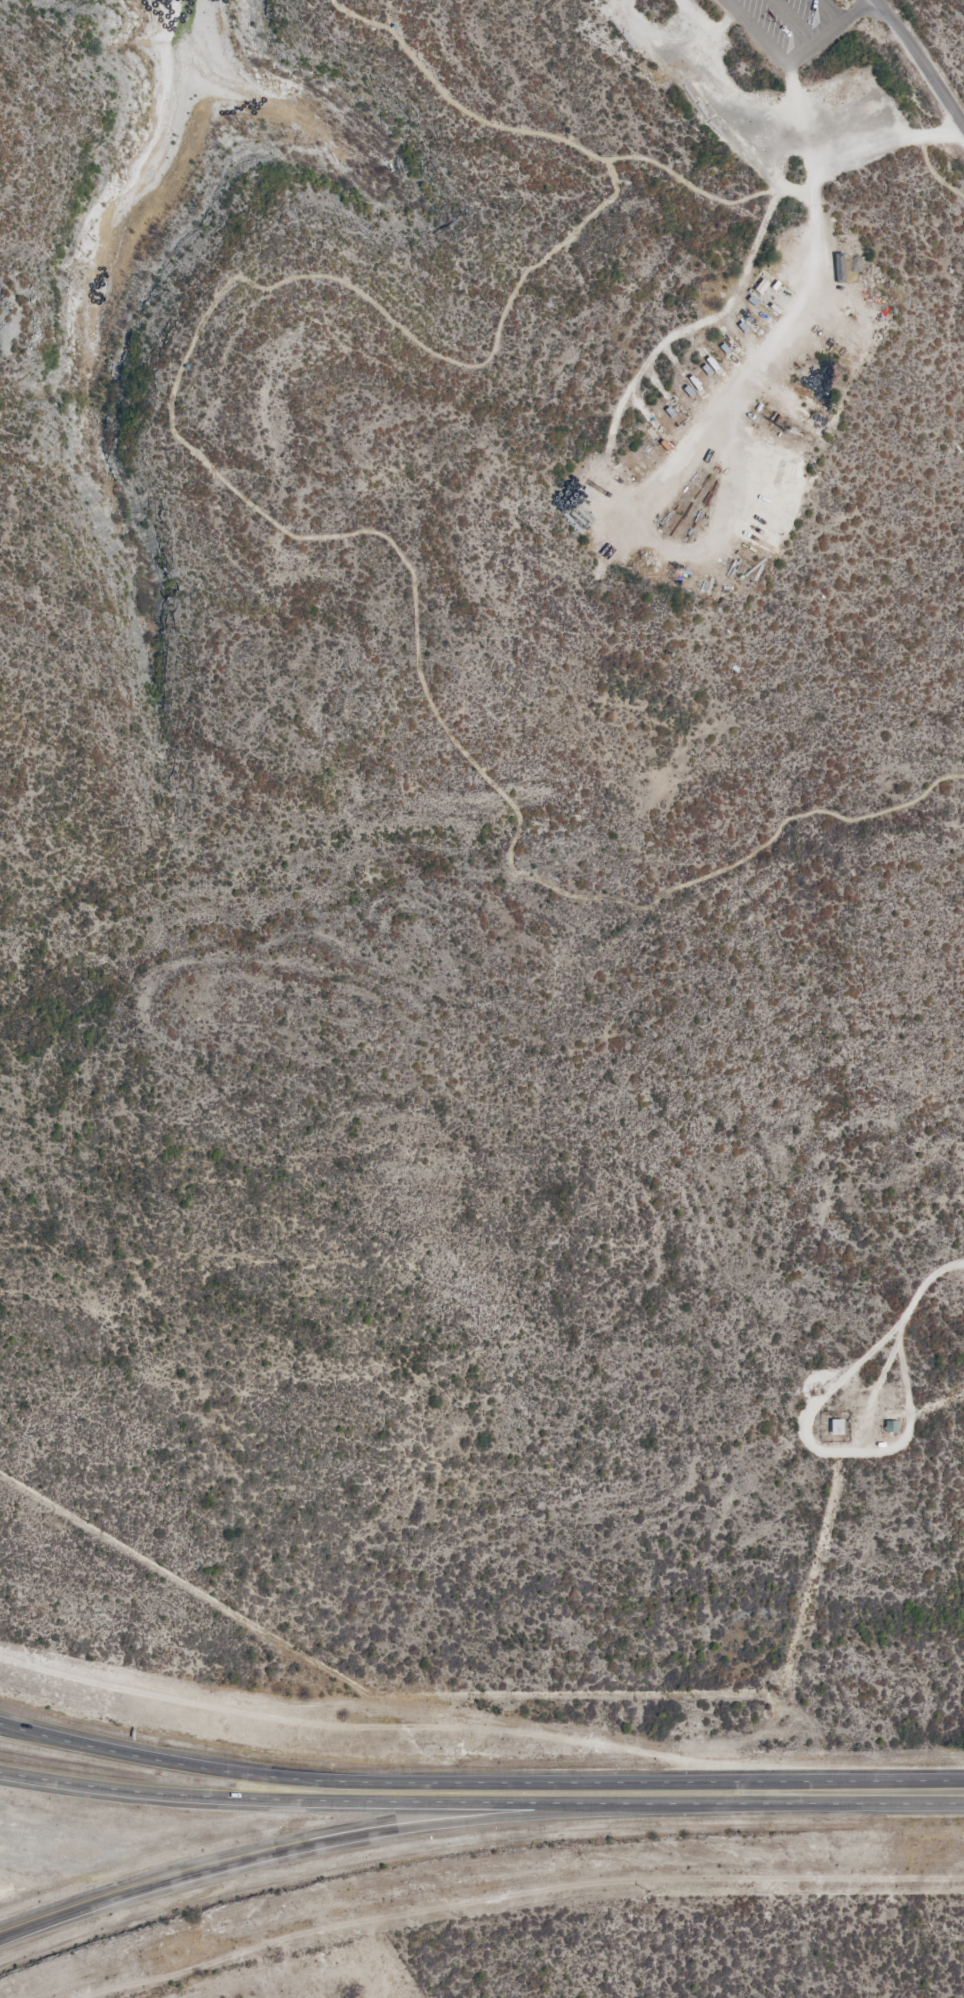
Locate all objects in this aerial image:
road: (831, 11)
road: (791, 24)
road: (922, 61)
road: (795, 63)
road: (887, 149)
road: (619, 514)
road: (721, 519)
road: (926, 1284)
road: (835, 1451)
road: (367, 1779)
road: (852, 1794)
road: (369, 1807)
road: (288, 1853)

